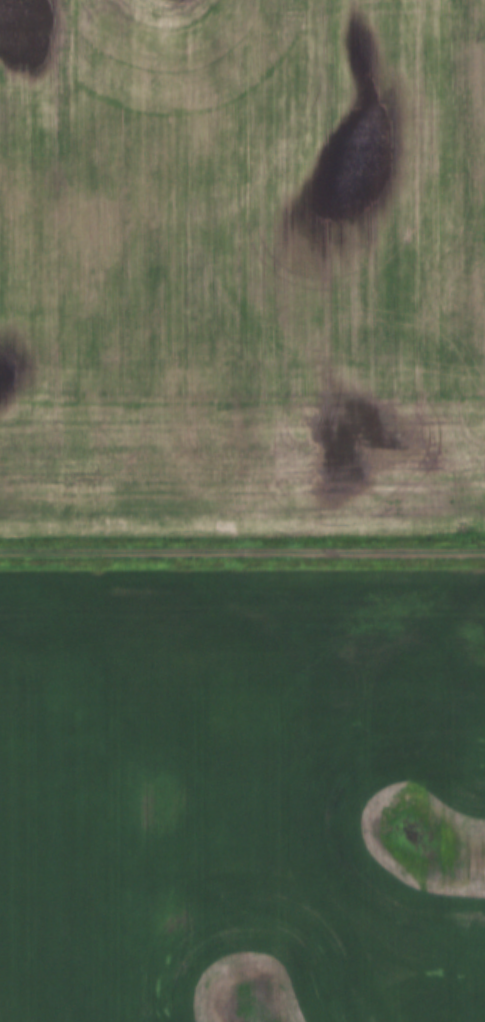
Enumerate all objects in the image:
road: (242, 550)

